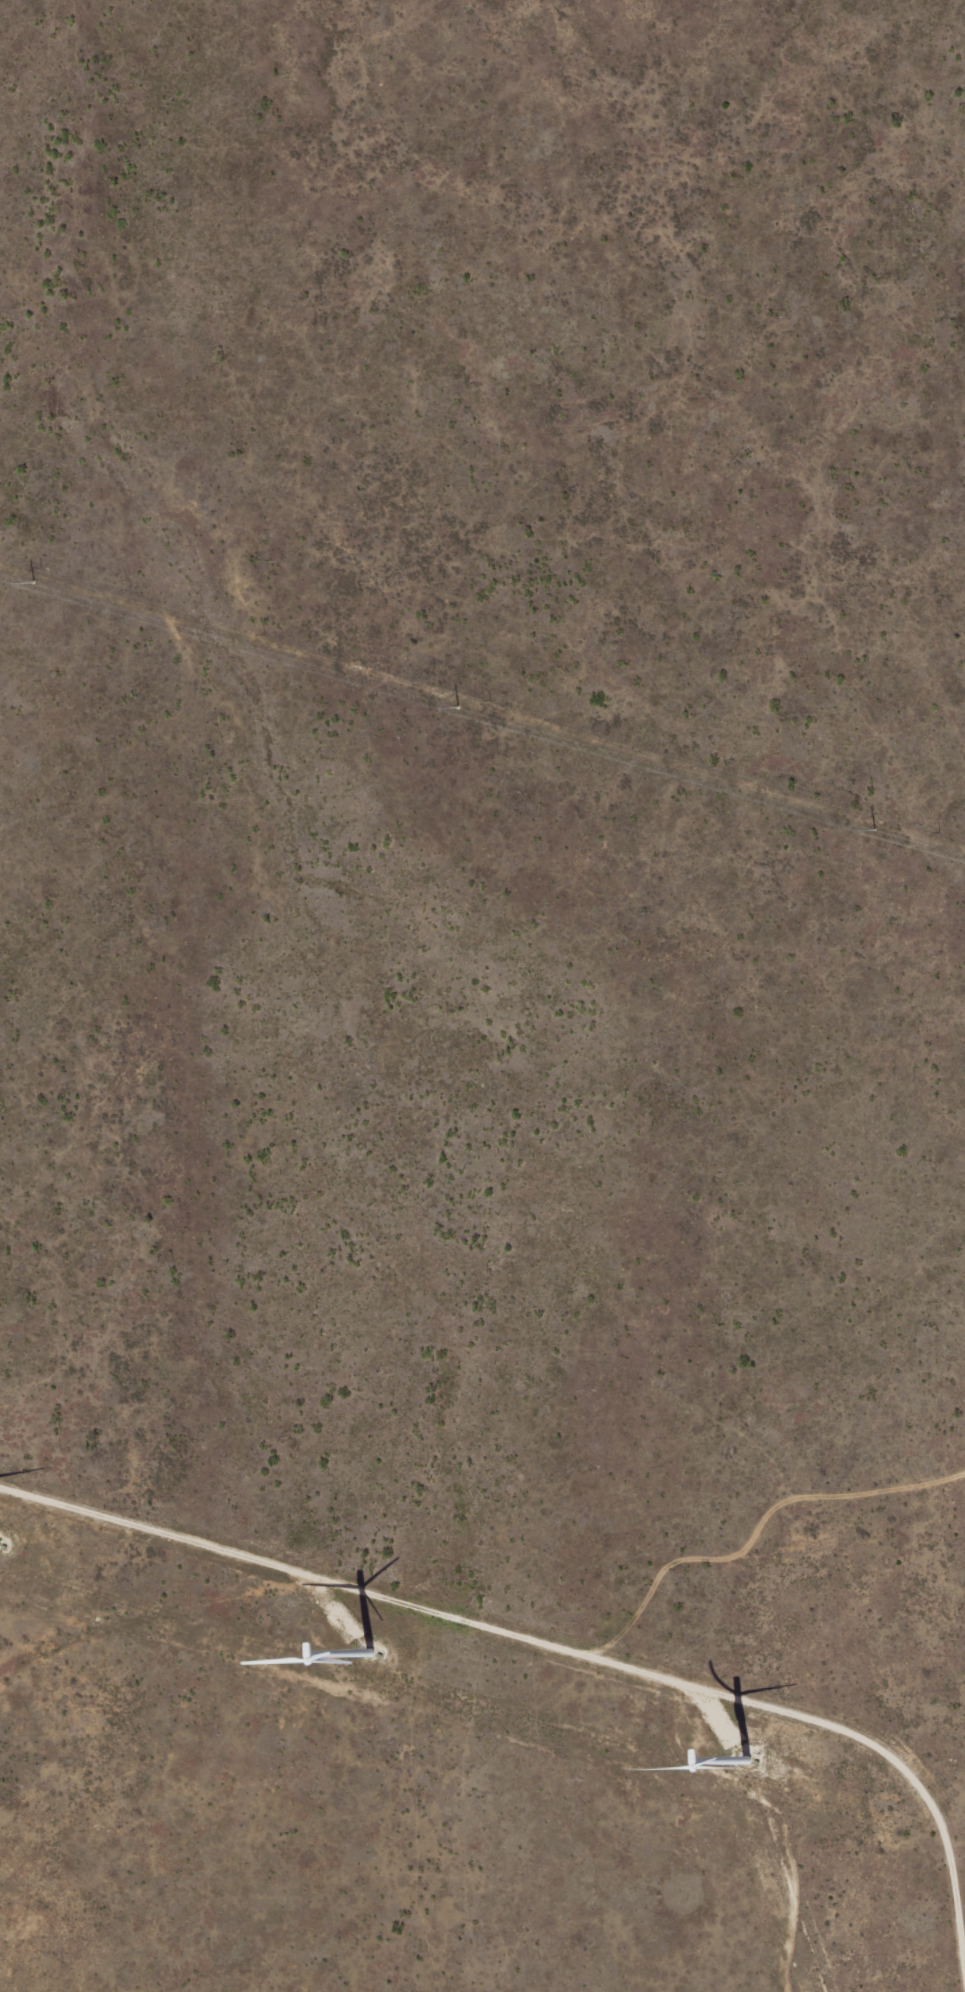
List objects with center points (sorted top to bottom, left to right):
power tower: (34, 582)
power tower: (459, 708)
power tower: (875, 829)
wind turbine: (357, 1635)
wind turbine: (742, 1768)

